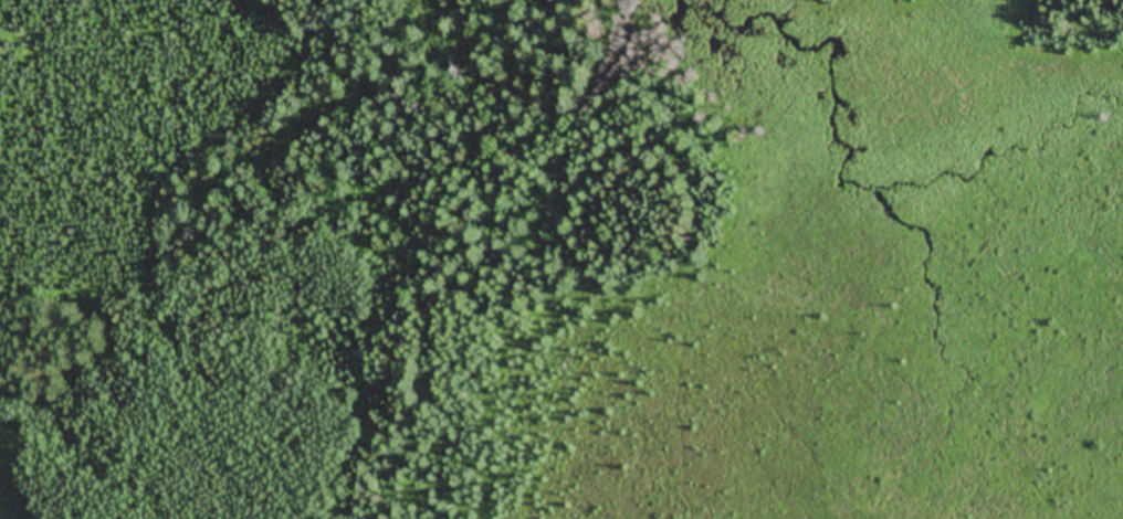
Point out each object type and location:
road: (111, 192)

